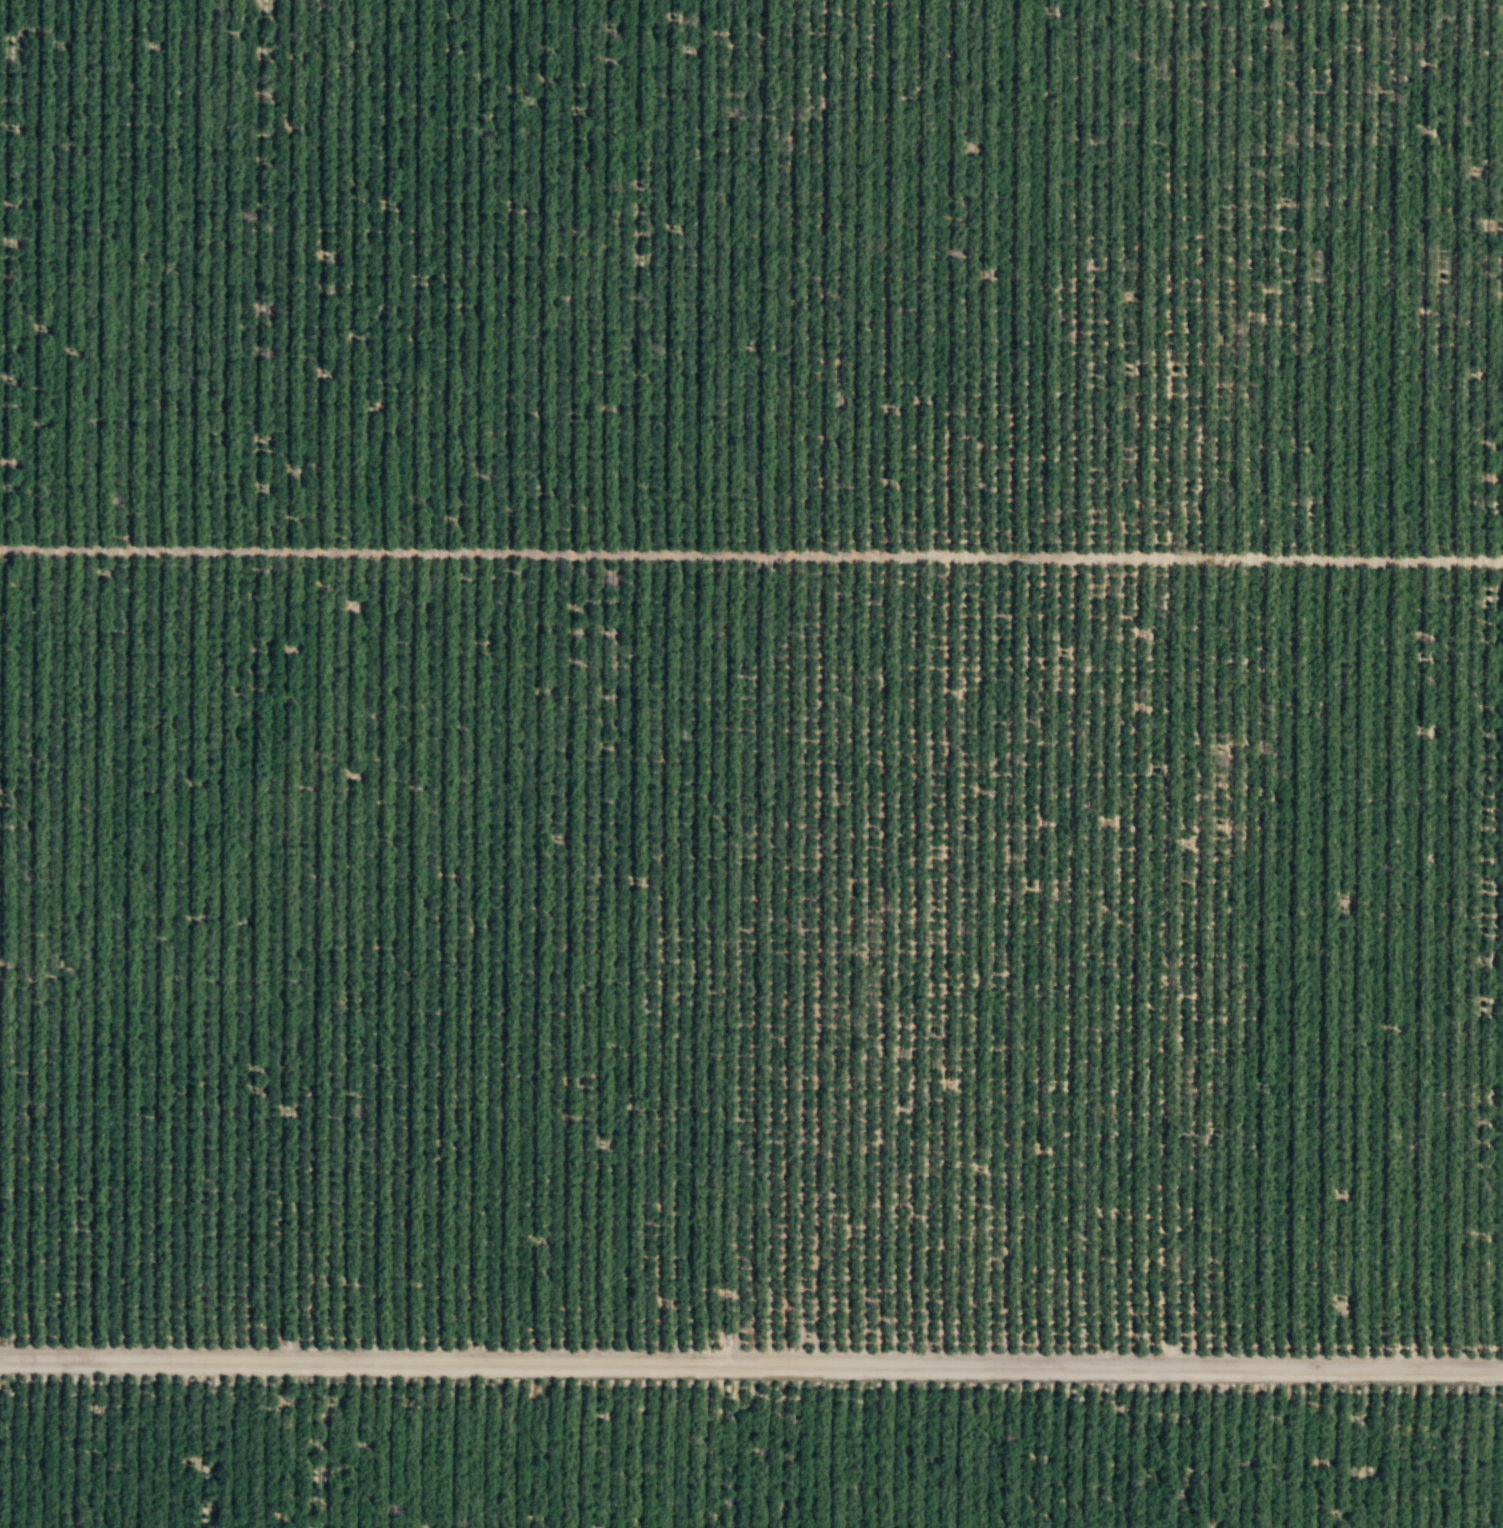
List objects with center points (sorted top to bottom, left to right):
road: (751, 552)
road: (751, 1362)

